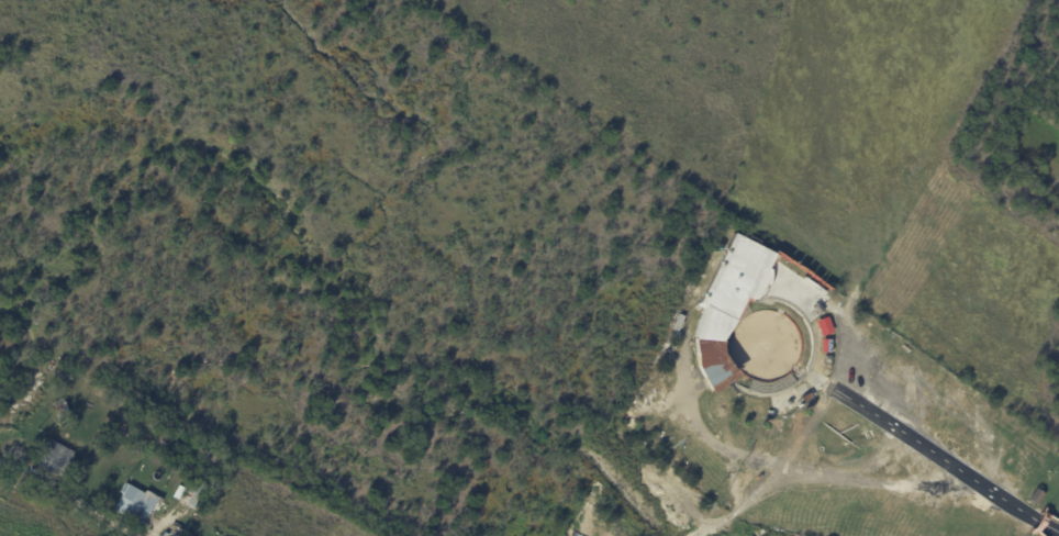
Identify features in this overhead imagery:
building: (815, 281)
building: (714, 327)
building: (102, 393)
building: (127, 427)
building: (55, 459)
road: (935, 469)
building: (193, 490)
building: (1036, 499)
road: (78, 502)
building: (134, 502)
road: (1038, 522)
road: (1049, 527)
building: (186, 535)

